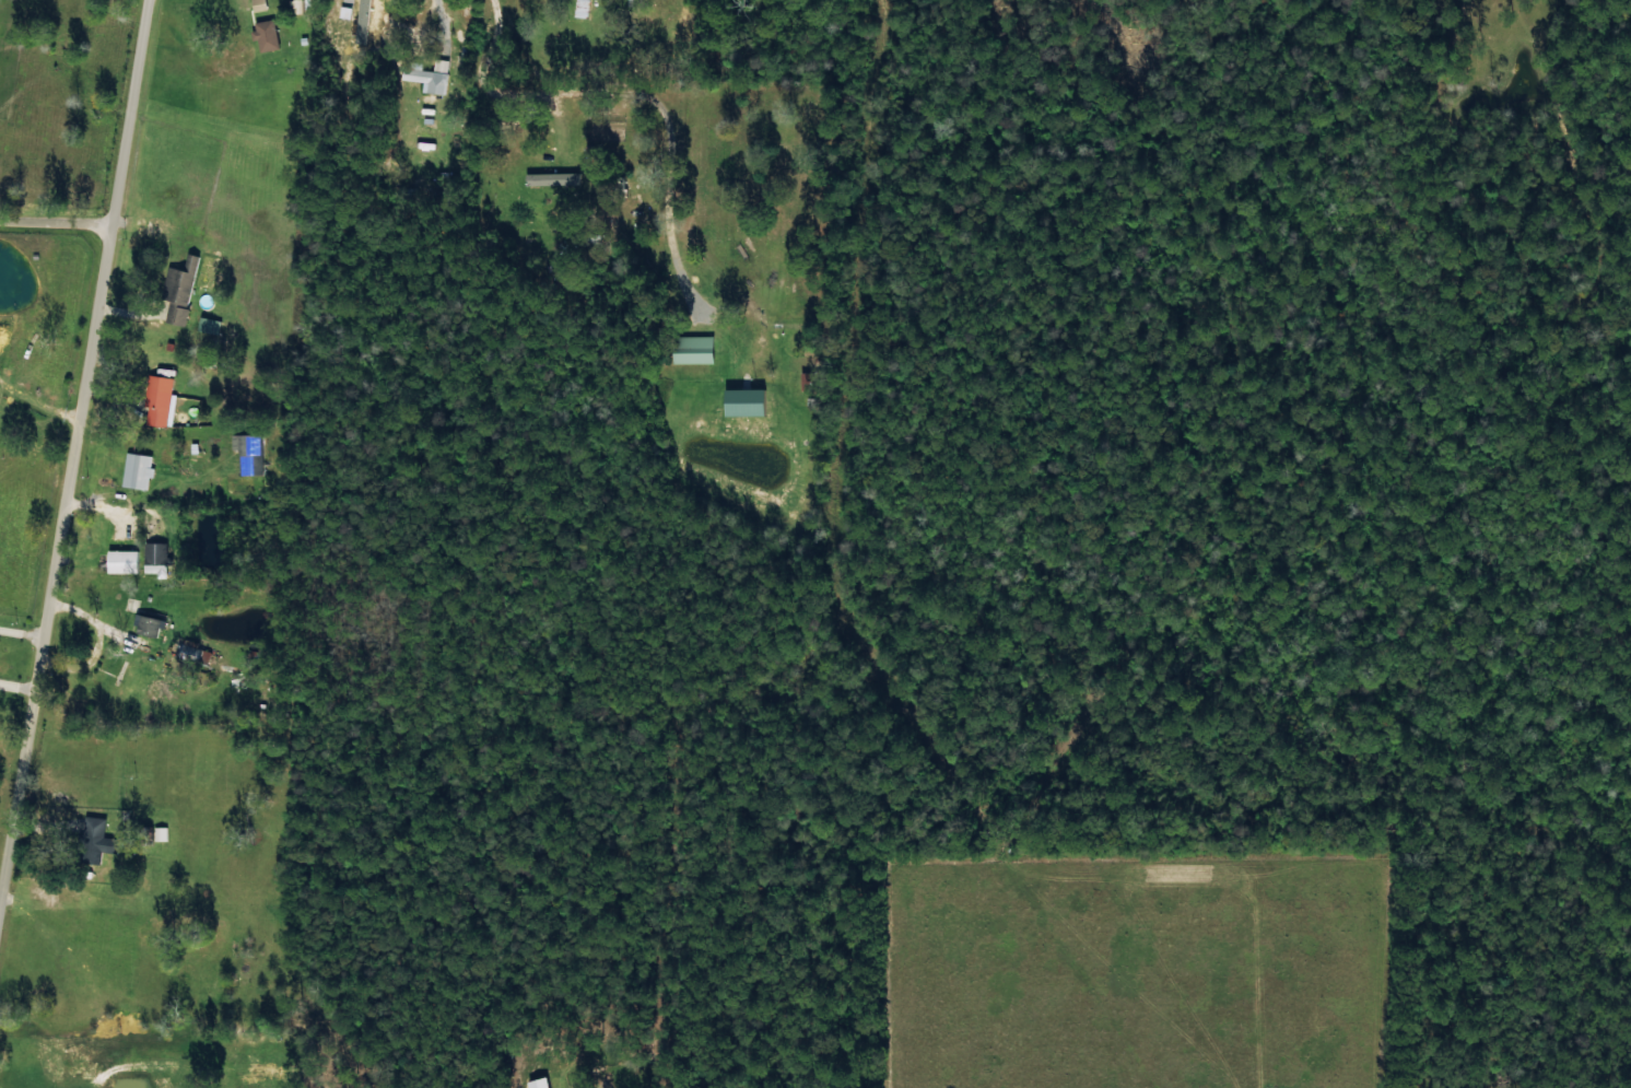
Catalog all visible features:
building: (258, 4)
building: (580, 8)
building: (266, 35)
building: (427, 74)
building: (551, 178)
road: (56, 243)
building: (179, 290)
building: (208, 325)
building: (692, 350)
building: (157, 399)
building: (743, 401)
building: (246, 453)
building: (137, 470)
road: (82, 530)
building: (154, 559)
building: (121, 561)
building: (148, 624)
building: (192, 652)
building: (153, 686)
building: (536, 1083)

